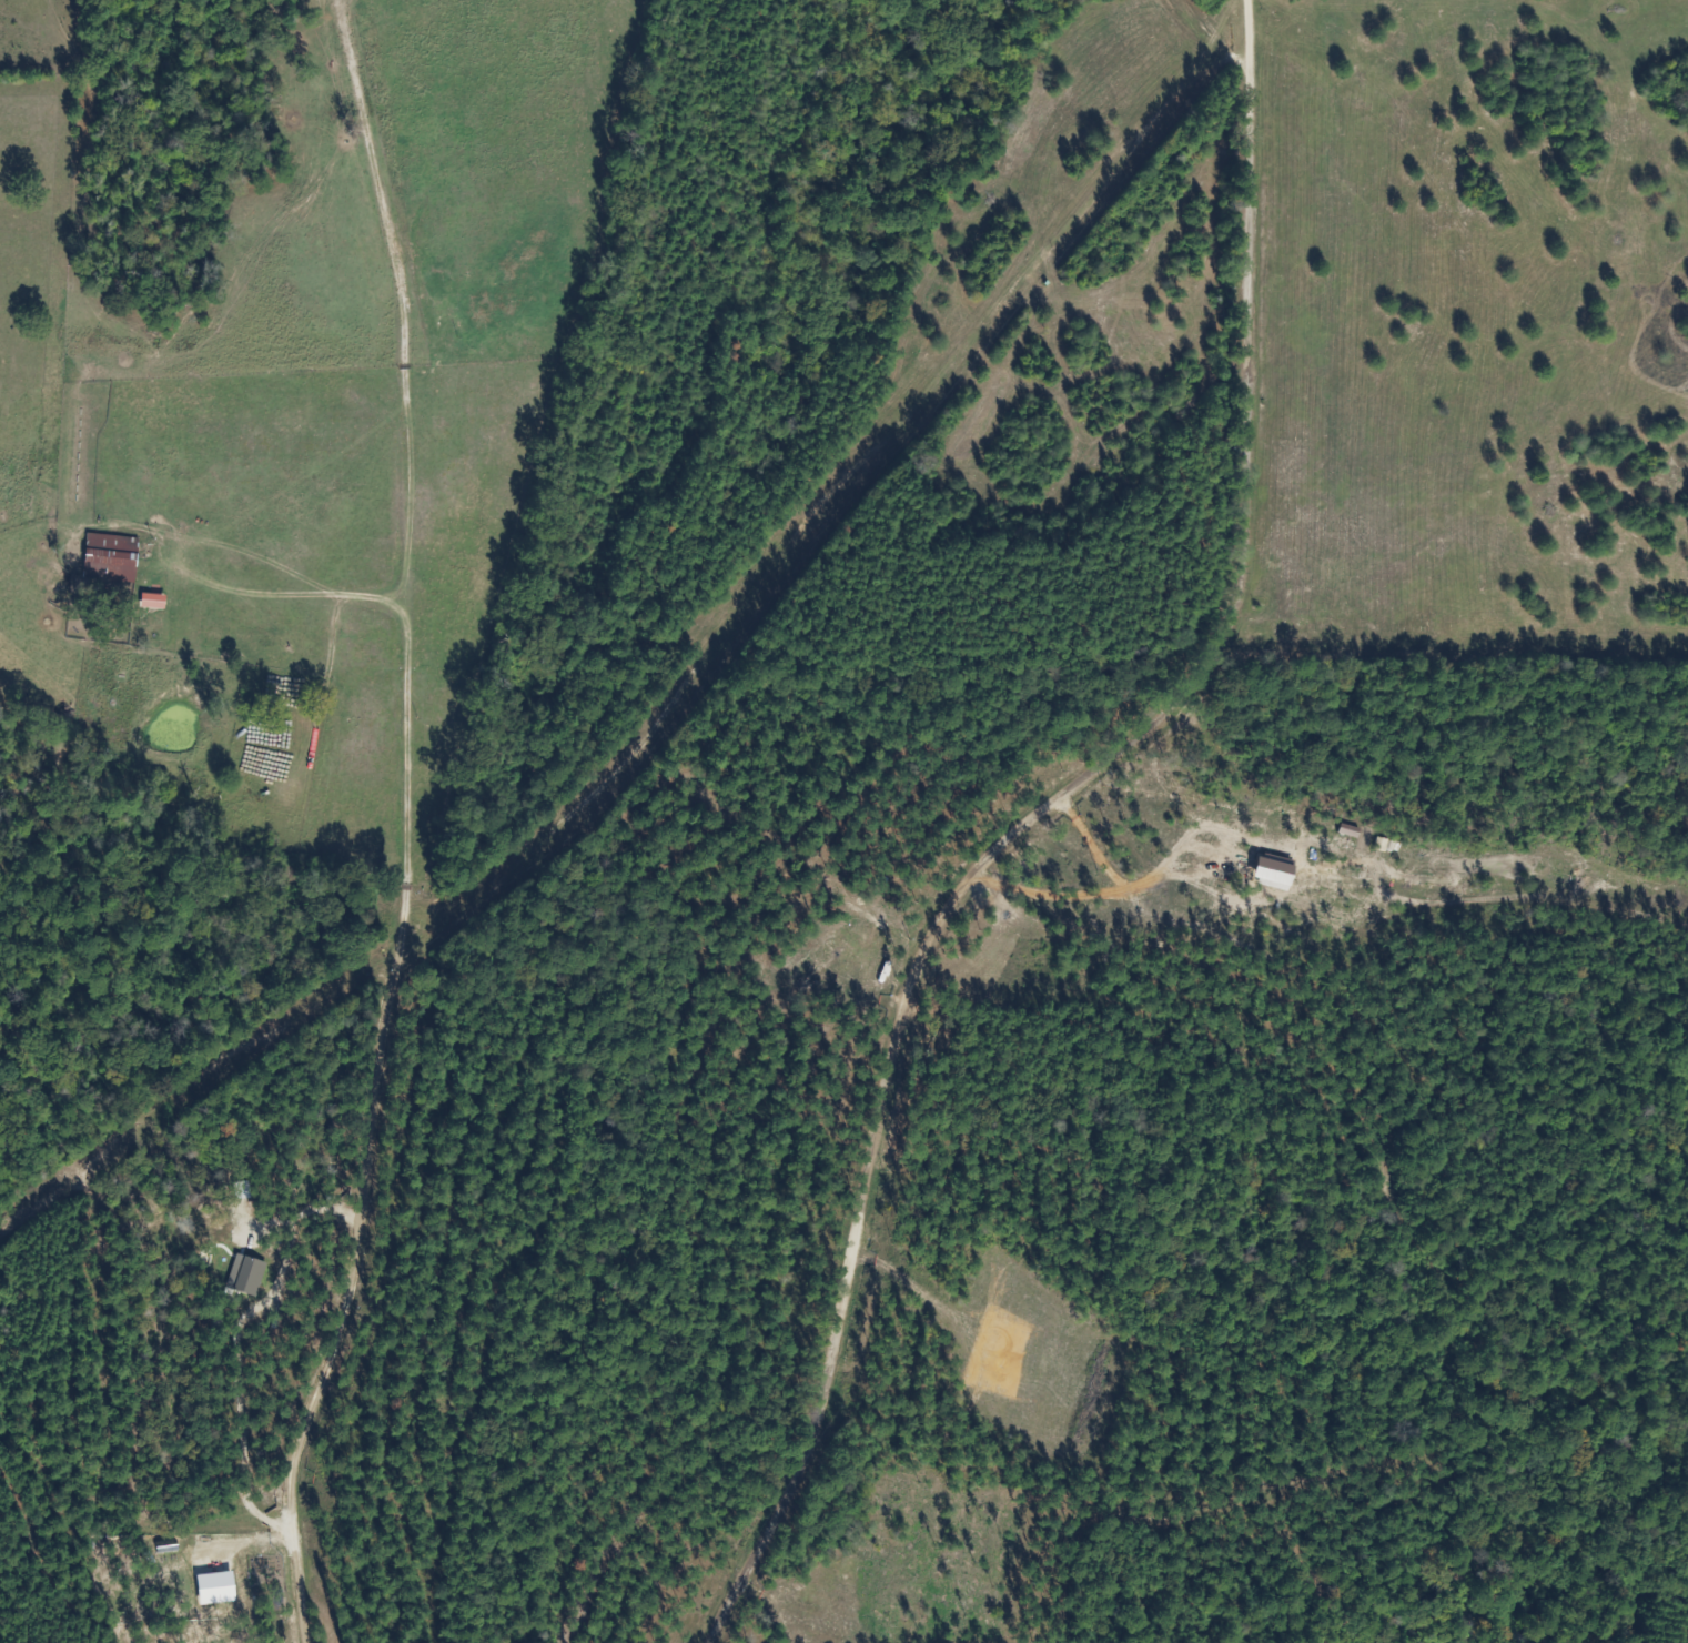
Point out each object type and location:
building: (113, 555)
building: (159, 602)
road: (1034, 823)
road: (370, 947)
building: (251, 1276)
building: (222, 1589)

